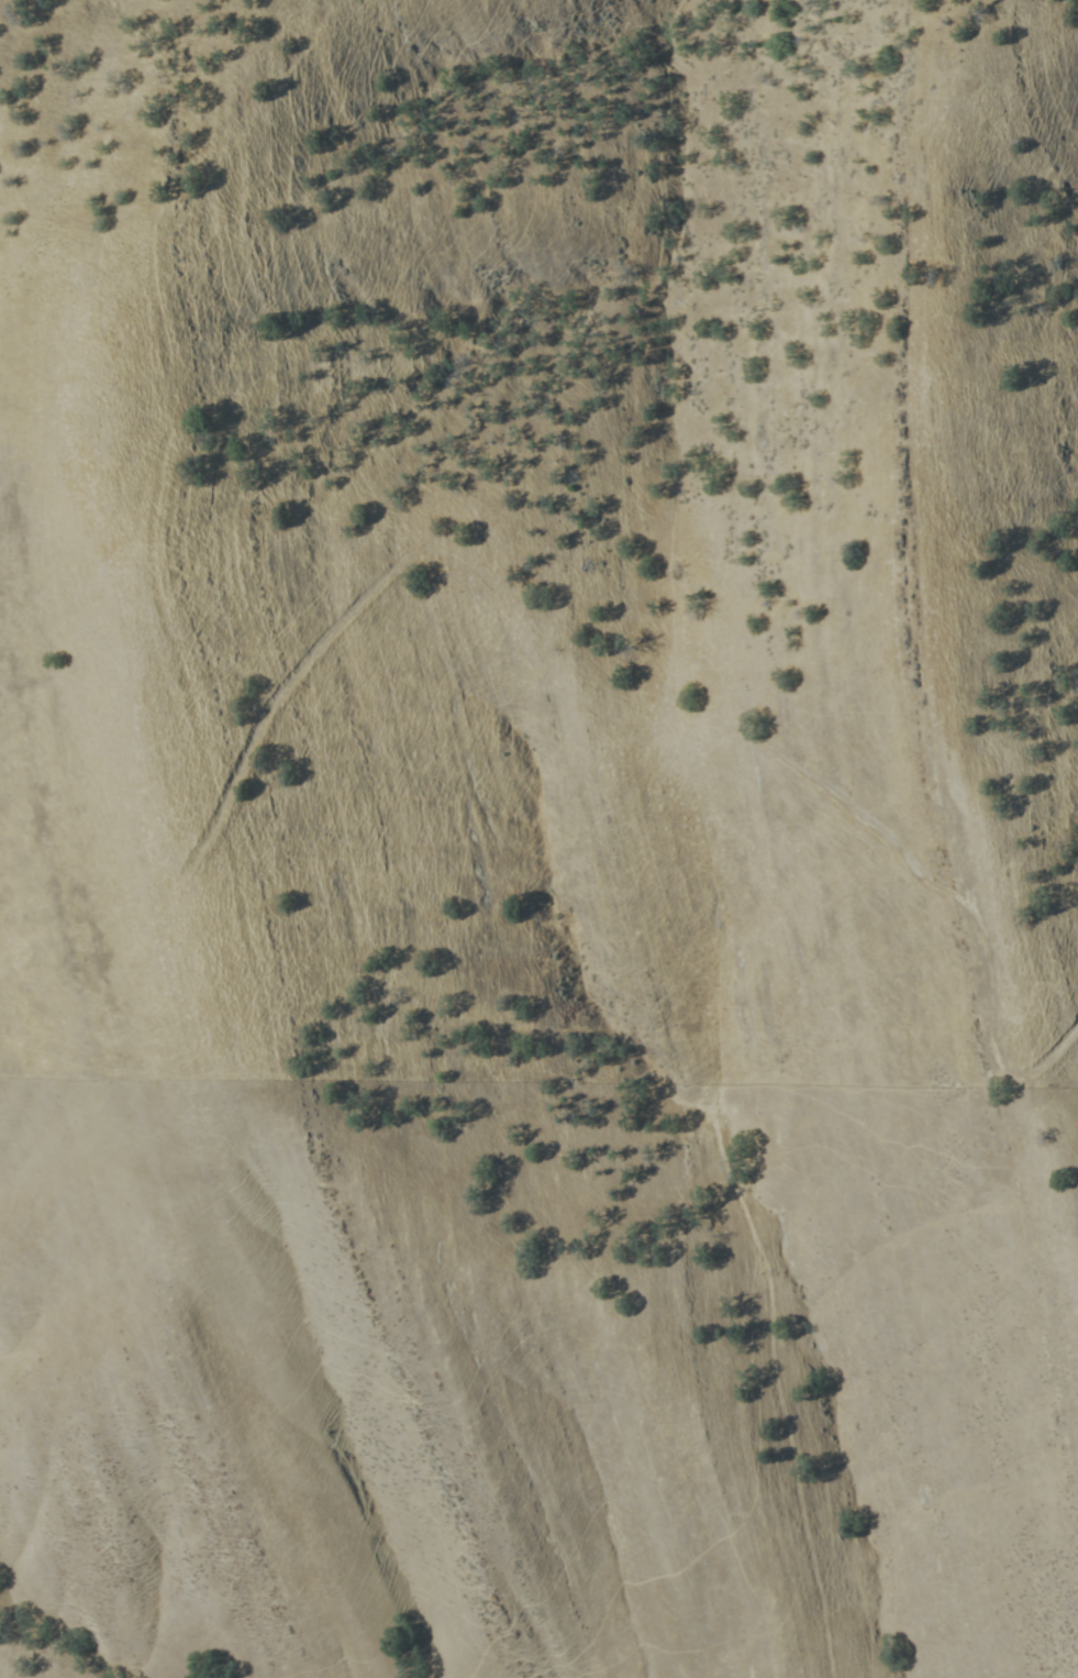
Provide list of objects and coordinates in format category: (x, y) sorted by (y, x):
road: (557, 1397)

